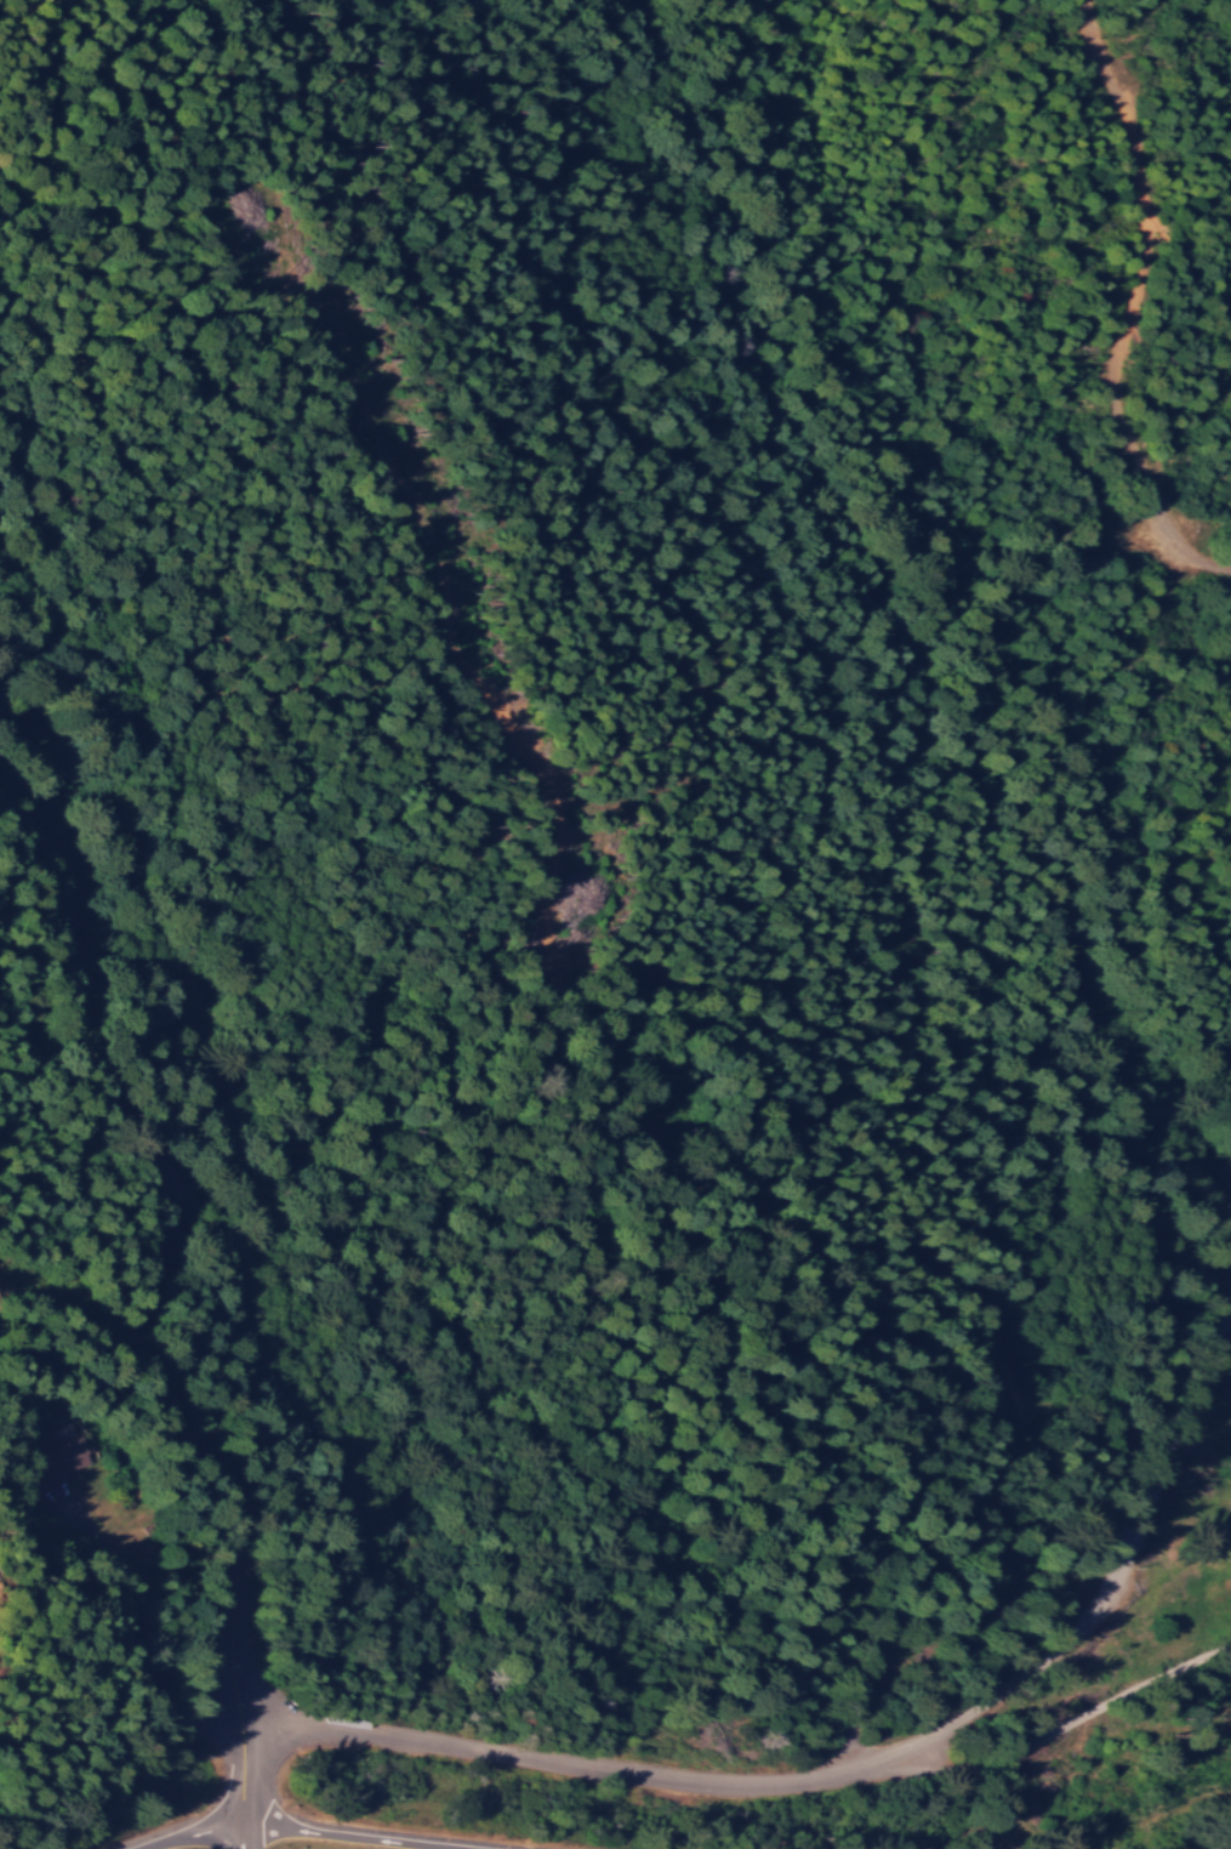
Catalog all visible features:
road: (148, 1286)
road: (1147, 1529)
road: (650, 1774)
road: (269, 1832)
road: (232, 1838)

